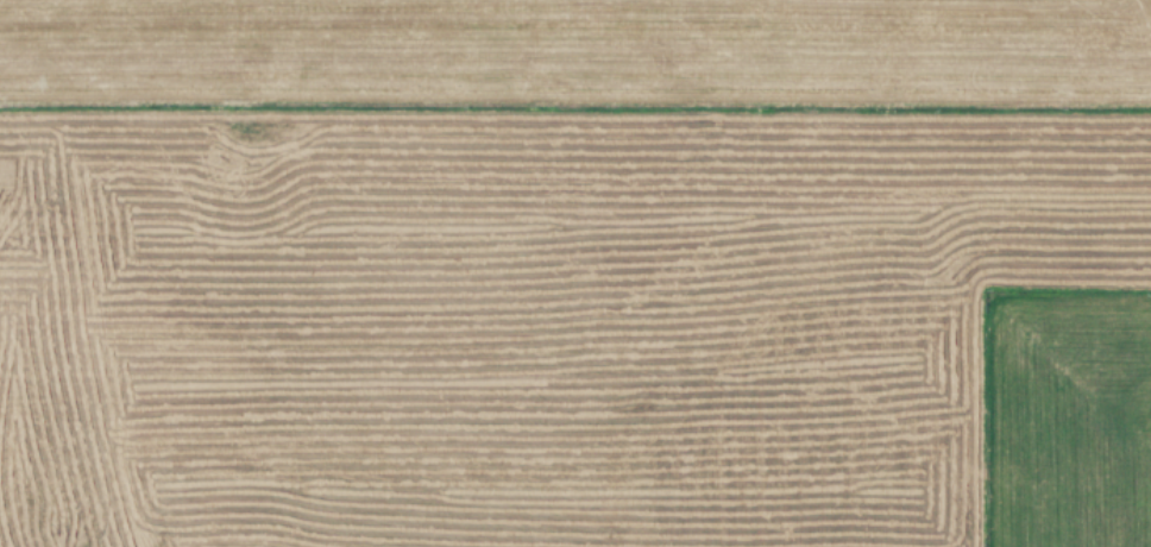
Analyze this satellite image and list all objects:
crop: (575, 273)

